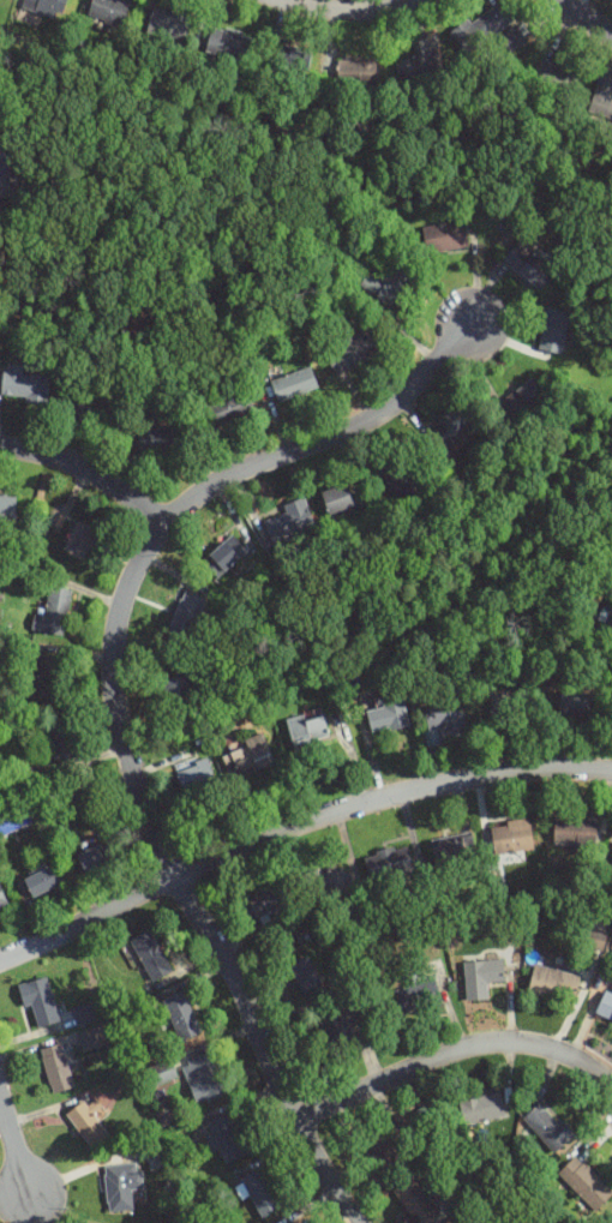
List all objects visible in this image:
building: (44, 7)
building: (109, 10)
road: (343, 10)
road: (586, 18)
building: (169, 25)
building: (482, 26)
building: (229, 43)
building: (294, 59)
building: (421, 61)
building: (356, 72)
building: (563, 76)
building: (602, 97)
building: (2, 156)
building: (445, 236)
building: (528, 264)
building: (388, 280)
building: (553, 330)
building: (353, 350)
building: (294, 383)
building: (24, 385)
building: (88, 400)
building: (523, 400)
building: (232, 406)
building: (452, 425)
building: (161, 438)
road: (88, 473)
building: (404, 475)
building: (338, 498)
building: (7, 508)
building: (290, 521)
building: (79, 540)
building: (224, 557)
building: (54, 612)
building: (186, 617)
building: (608, 623)
building: (47, 677)
building: (176, 690)
building: (576, 703)
road: (114, 706)
building: (511, 706)
building: (388, 717)
building: (446, 717)
building: (307, 731)
building: (62, 741)
building: (250, 757)
building: (197, 777)
road: (295, 826)
building: (576, 831)
building: (512, 837)
building: (455, 847)
building: (96, 857)
building: (611, 859)
building: (389, 863)
building: (43, 880)
building: (332, 883)
building: (2, 898)
building: (264, 905)
building: (596, 939)
building: (151, 955)
building: (433, 975)
building: (481, 976)
building: (305, 977)
building: (553, 983)
building: (418, 996)
building: (38, 1001)
building: (605, 1006)
building: (86, 1014)
building: (182, 1015)
building: (336, 1031)
building: (94, 1037)
road: (454, 1050)
building: (56, 1068)
building: (160, 1075)
building: (204, 1077)
building: (482, 1109)
building: (88, 1123)
building: (548, 1127)
building: (226, 1137)
building: (389, 1143)
road: (16, 1146)
building: (586, 1183)
building: (122, 1186)
building: (262, 1193)
building: (416, 1201)
building: (293, 1222)

